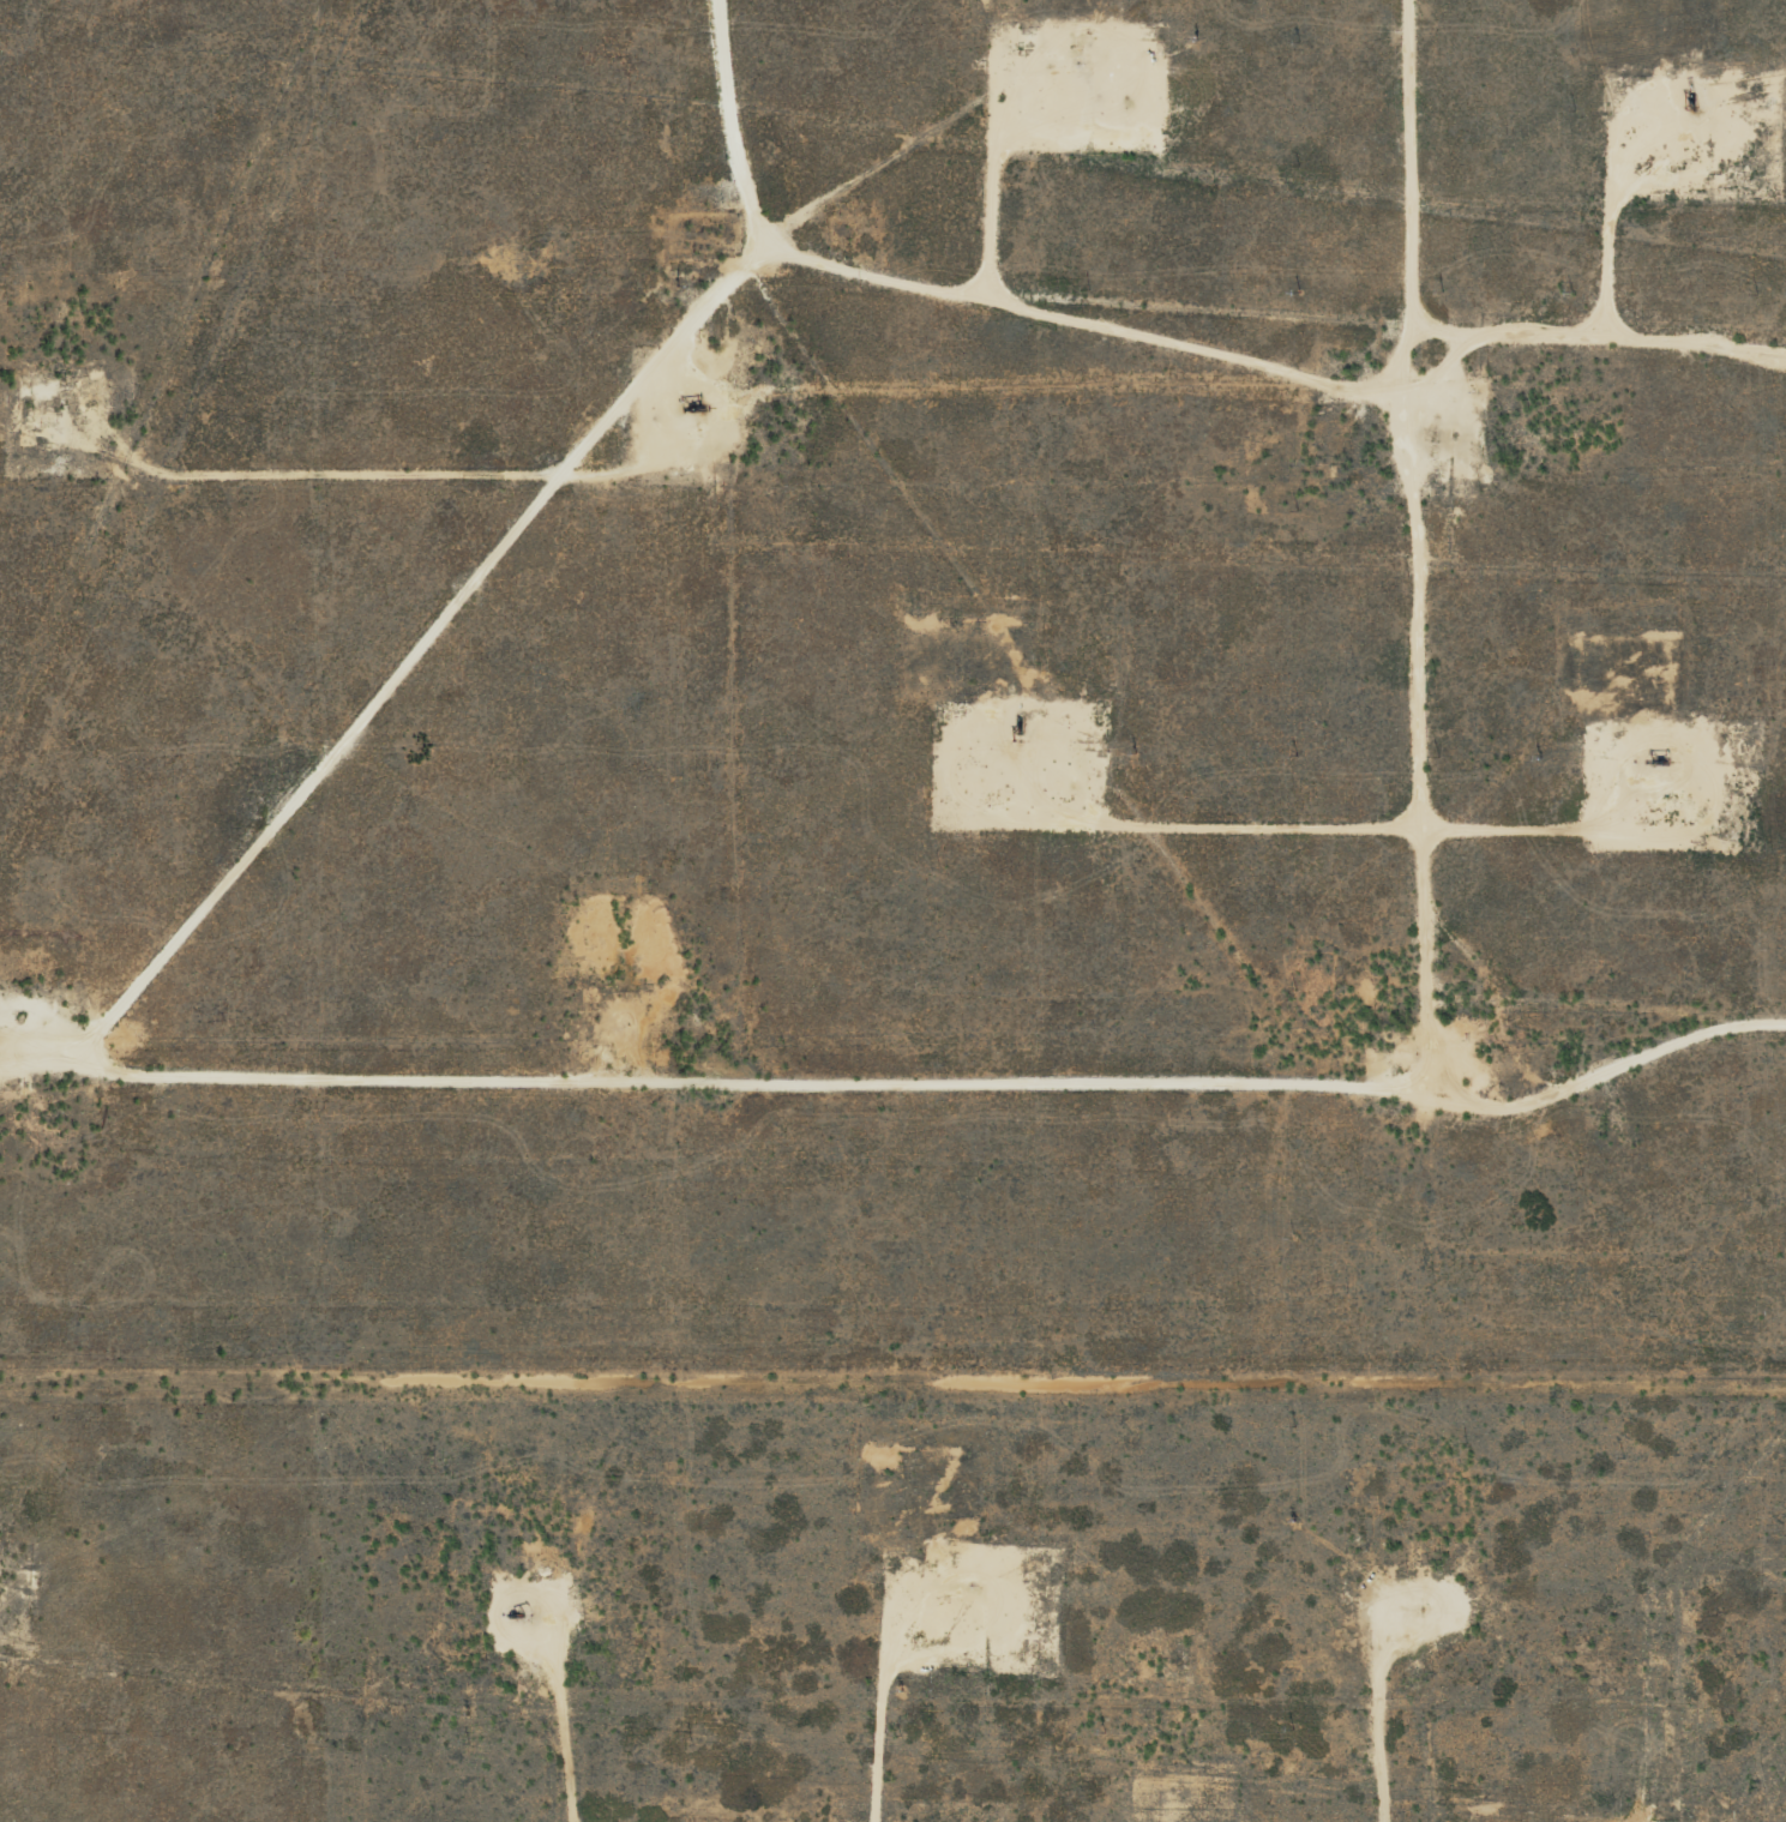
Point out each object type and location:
road: (1411, 529)
road: (319, 1045)

